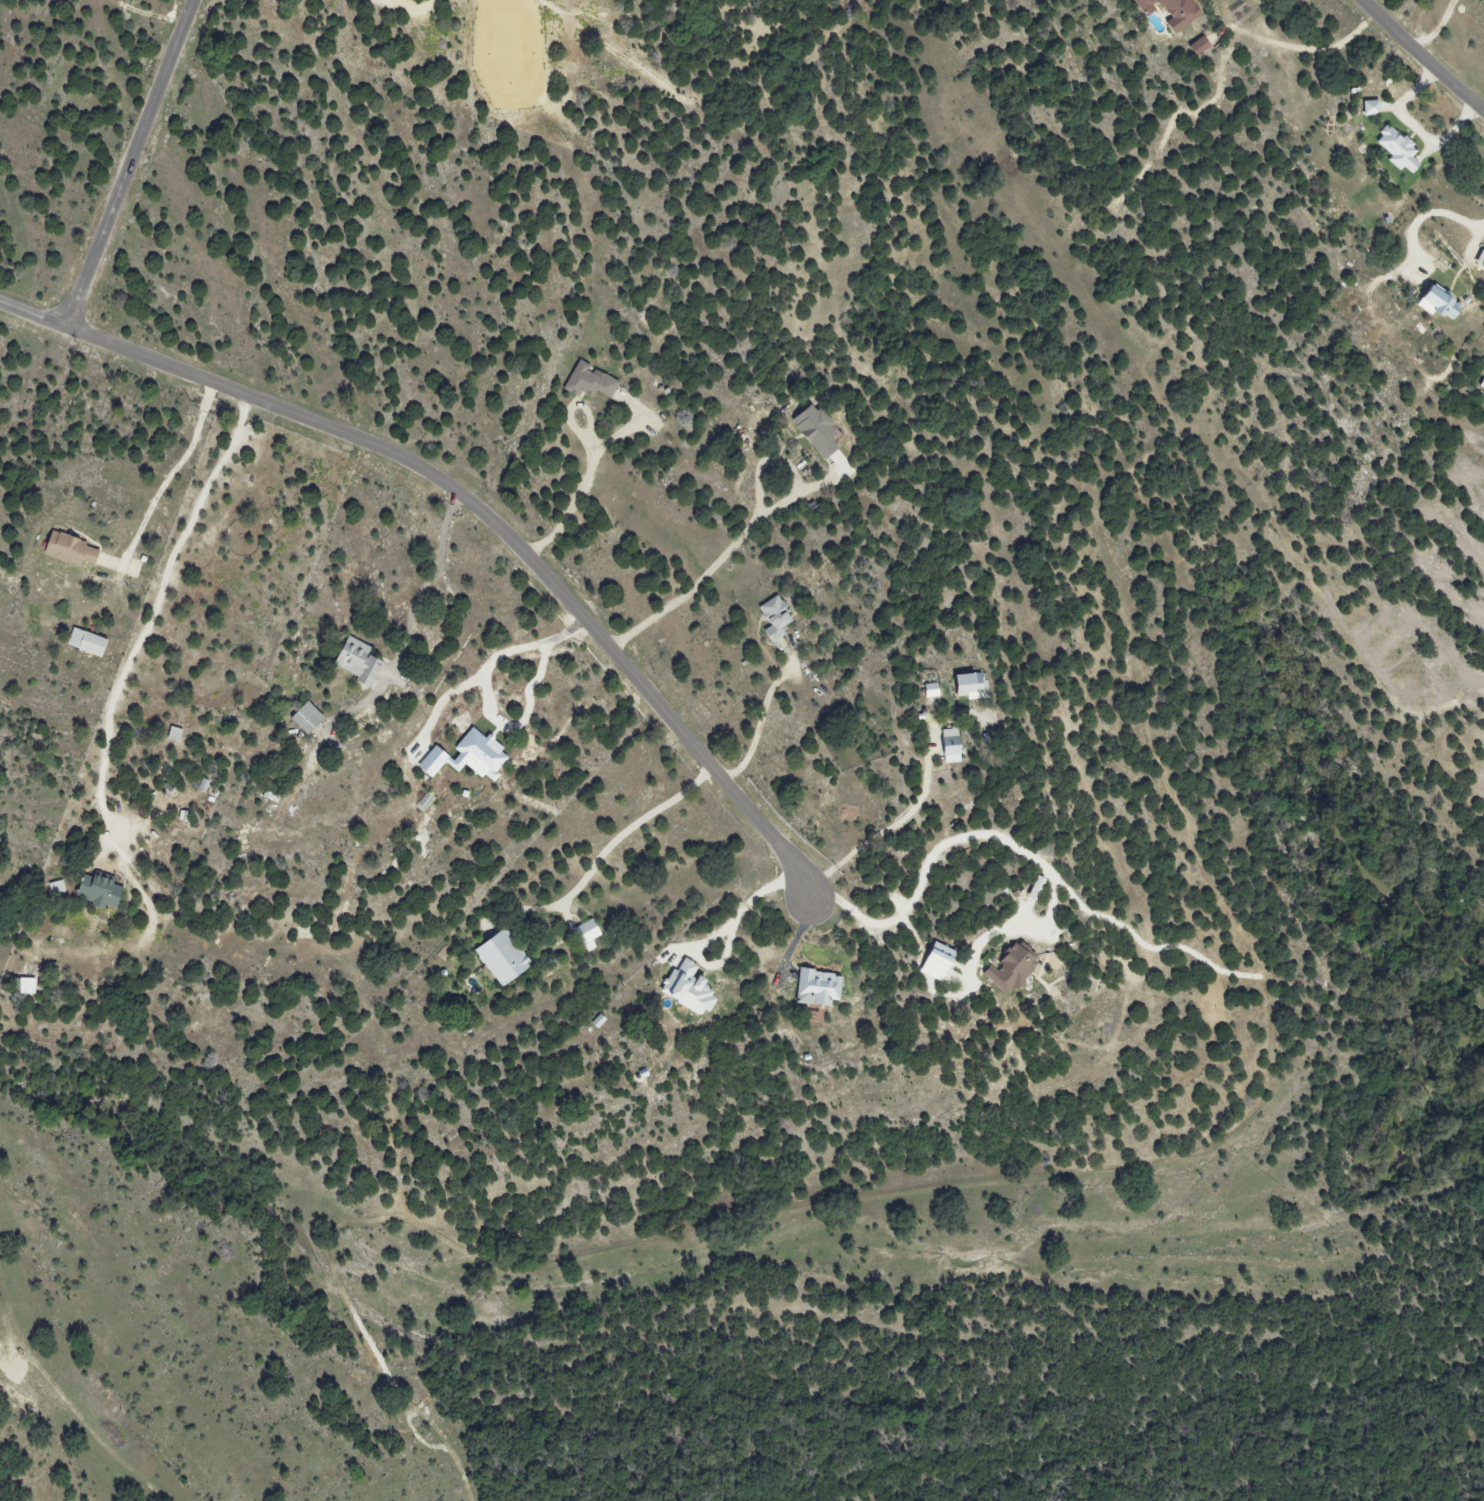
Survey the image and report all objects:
building: (1168, 12)
road: (1438, 30)
building: (1195, 46)
road: (1309, 51)
road: (1420, 58)
building: (1368, 108)
building: (1394, 149)
road: (131, 164)
road: (1436, 211)
building: (1478, 261)
building: (1433, 303)
building: (591, 381)
building: (1480, 384)
building: (819, 430)
road: (173, 472)
road: (579, 494)
road: (471, 505)
building: (73, 550)
road: (702, 578)
road: (154, 612)
building: (777, 618)
road: (408, 621)
building: (89, 642)
building: (361, 662)
road: (489, 664)
building: (972, 686)
building: (932, 690)
building: (309, 718)
road: (759, 727)
building: (176, 734)
building: (953, 745)
building: (471, 756)
road: (941, 847)
road: (603, 856)
building: (102, 892)
building: (590, 935)
road: (729, 936)
building: (504, 959)
building: (940, 962)
building: (1014, 969)
building: (29, 986)
building: (690, 988)
building: (820, 988)
building: (599, 1021)

